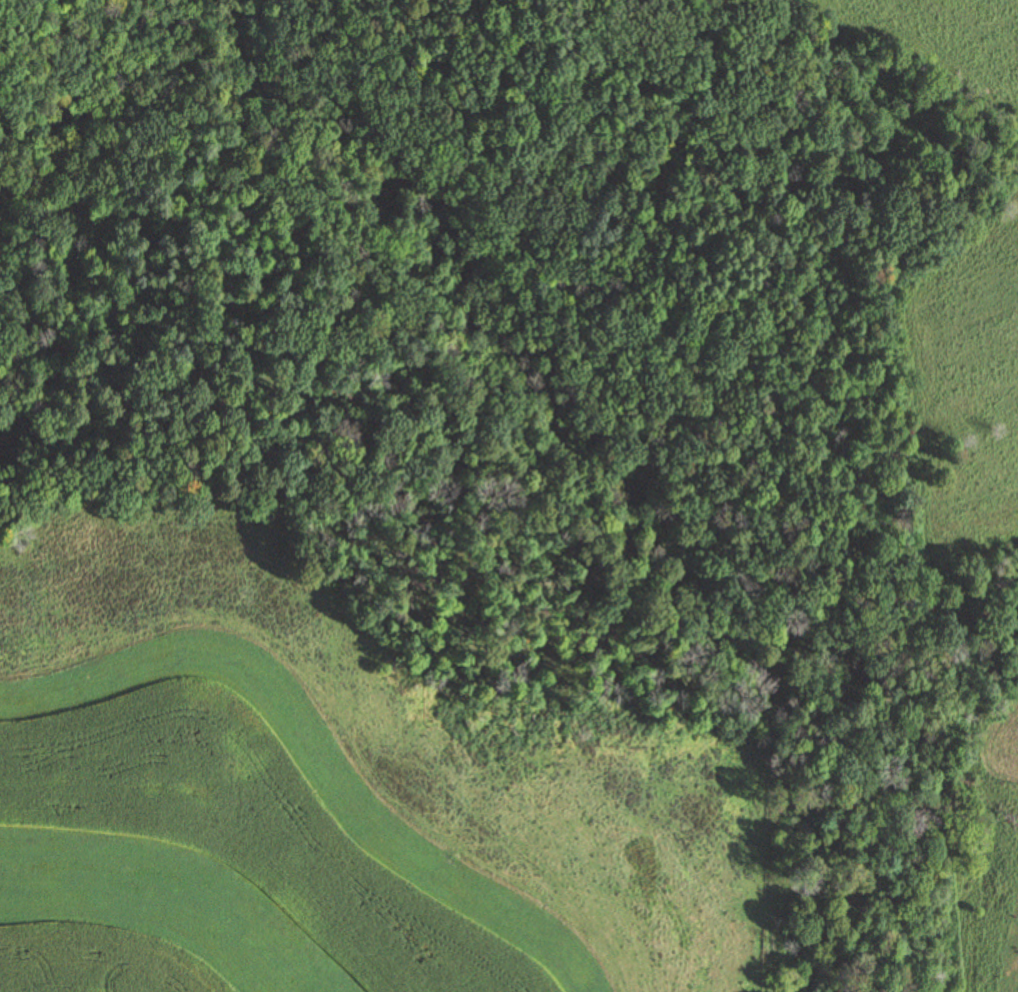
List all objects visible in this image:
crop: (231, 845)

